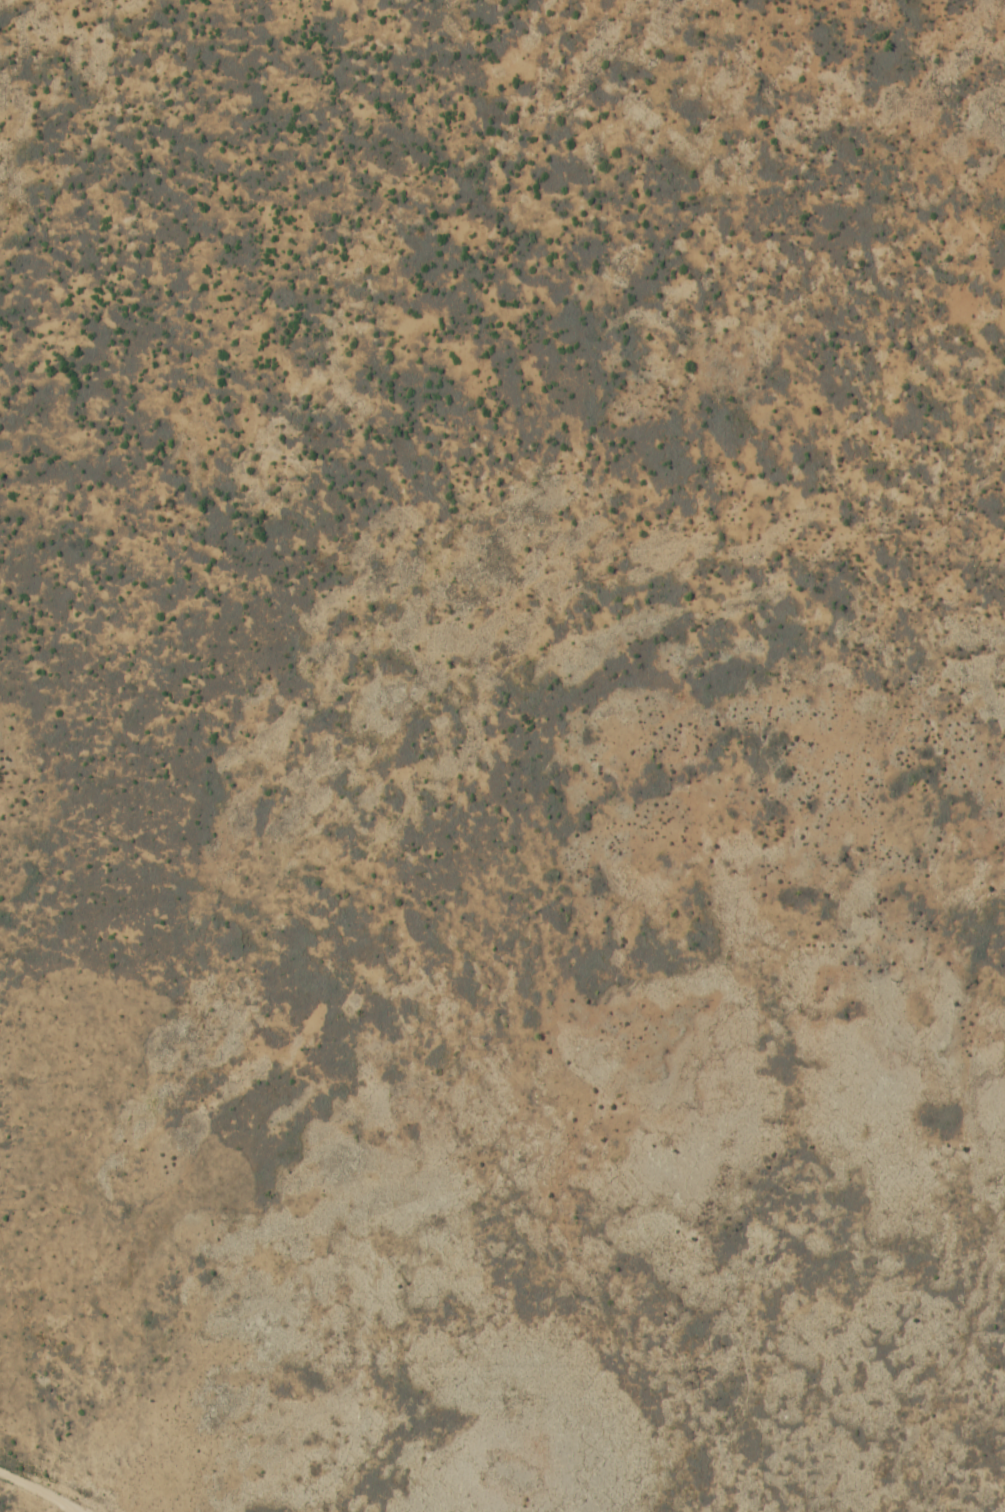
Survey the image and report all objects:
road: (36, 1495)

